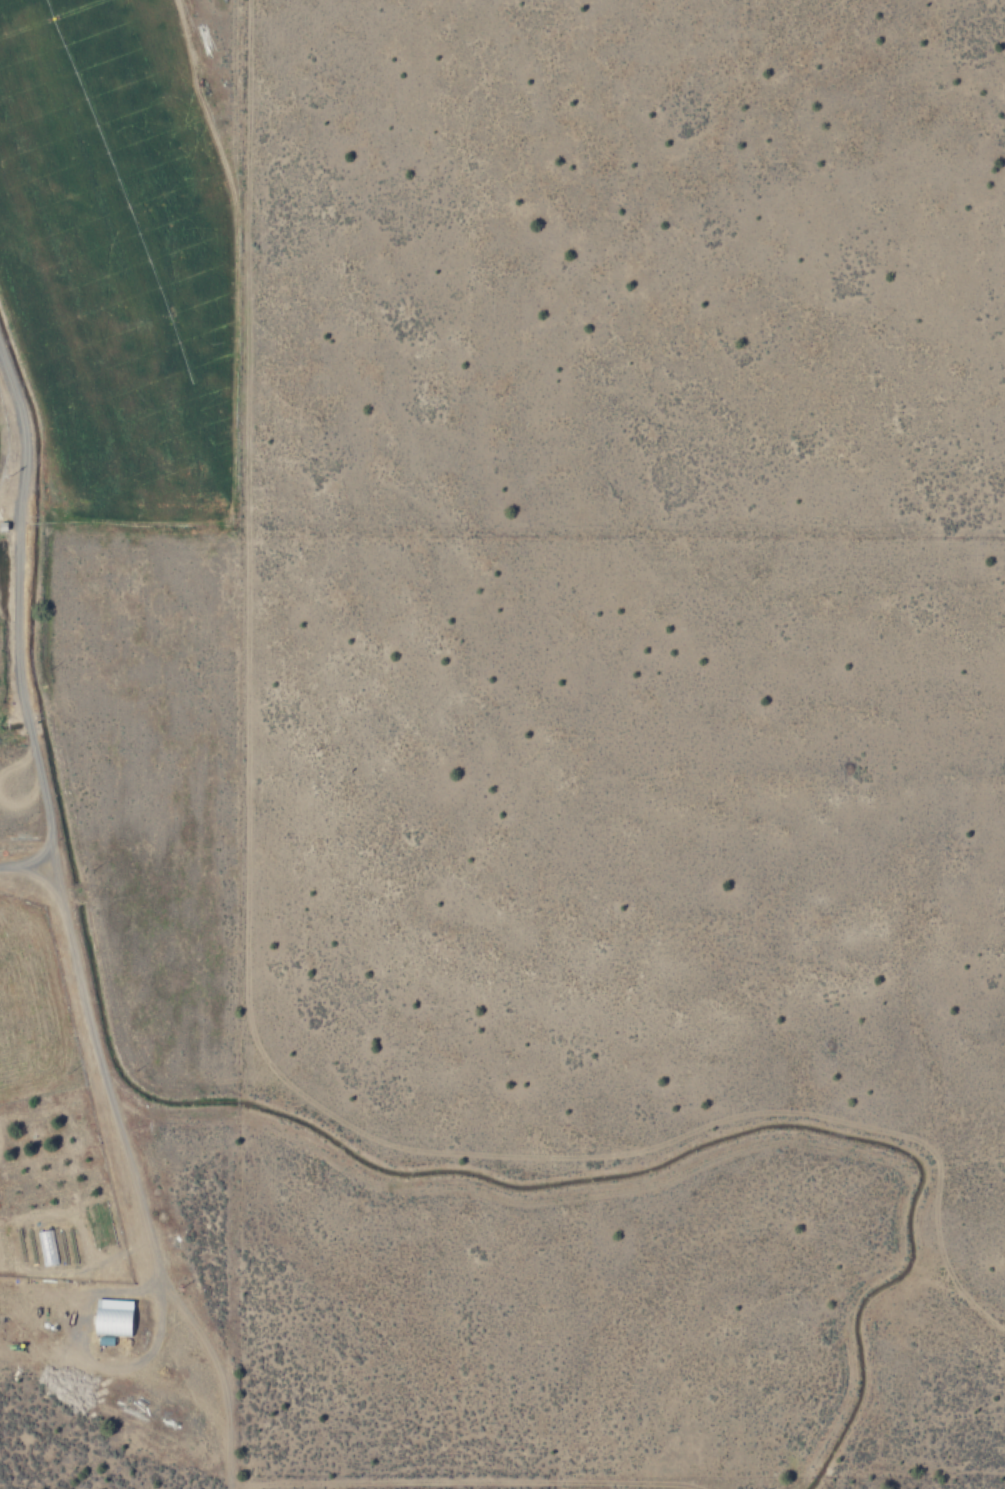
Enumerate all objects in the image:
road: (33, 858)
road: (72, 927)
building: (45, 1247)
building: (112, 1320)

